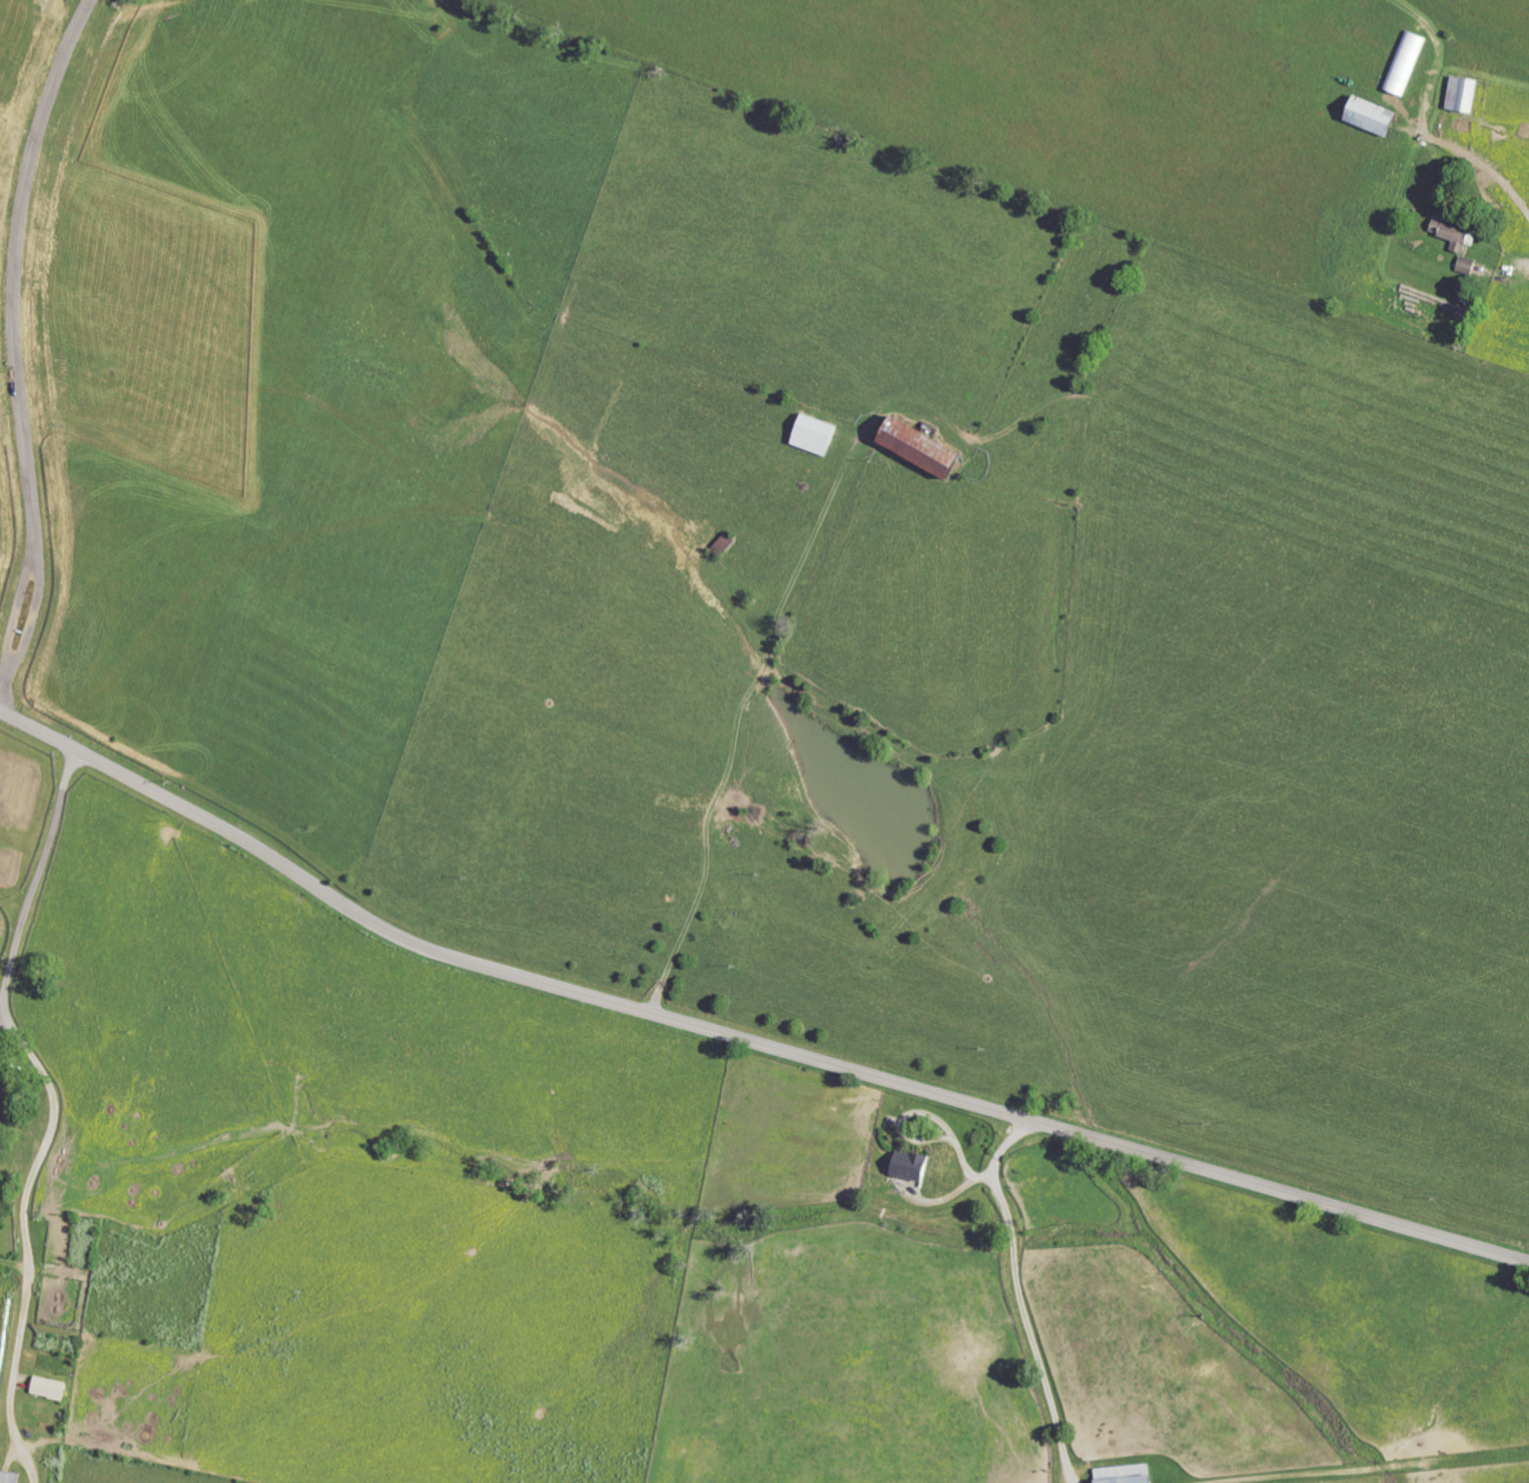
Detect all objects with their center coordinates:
building: (1407, 61)
building: (1464, 93)
building: (1374, 115)
road: (1485, 166)
building: (1454, 232)
building: (1468, 265)
road: (15, 271)
building: (815, 434)
building: (924, 446)
road: (16, 606)
road: (34, 610)
road: (6, 680)
road: (737, 725)
road: (742, 1036)
road: (53, 1107)
building: (912, 1165)
road: (1020, 1293)
building: (49, 1388)
building: (1128, 1474)
building: (9, 1477)

